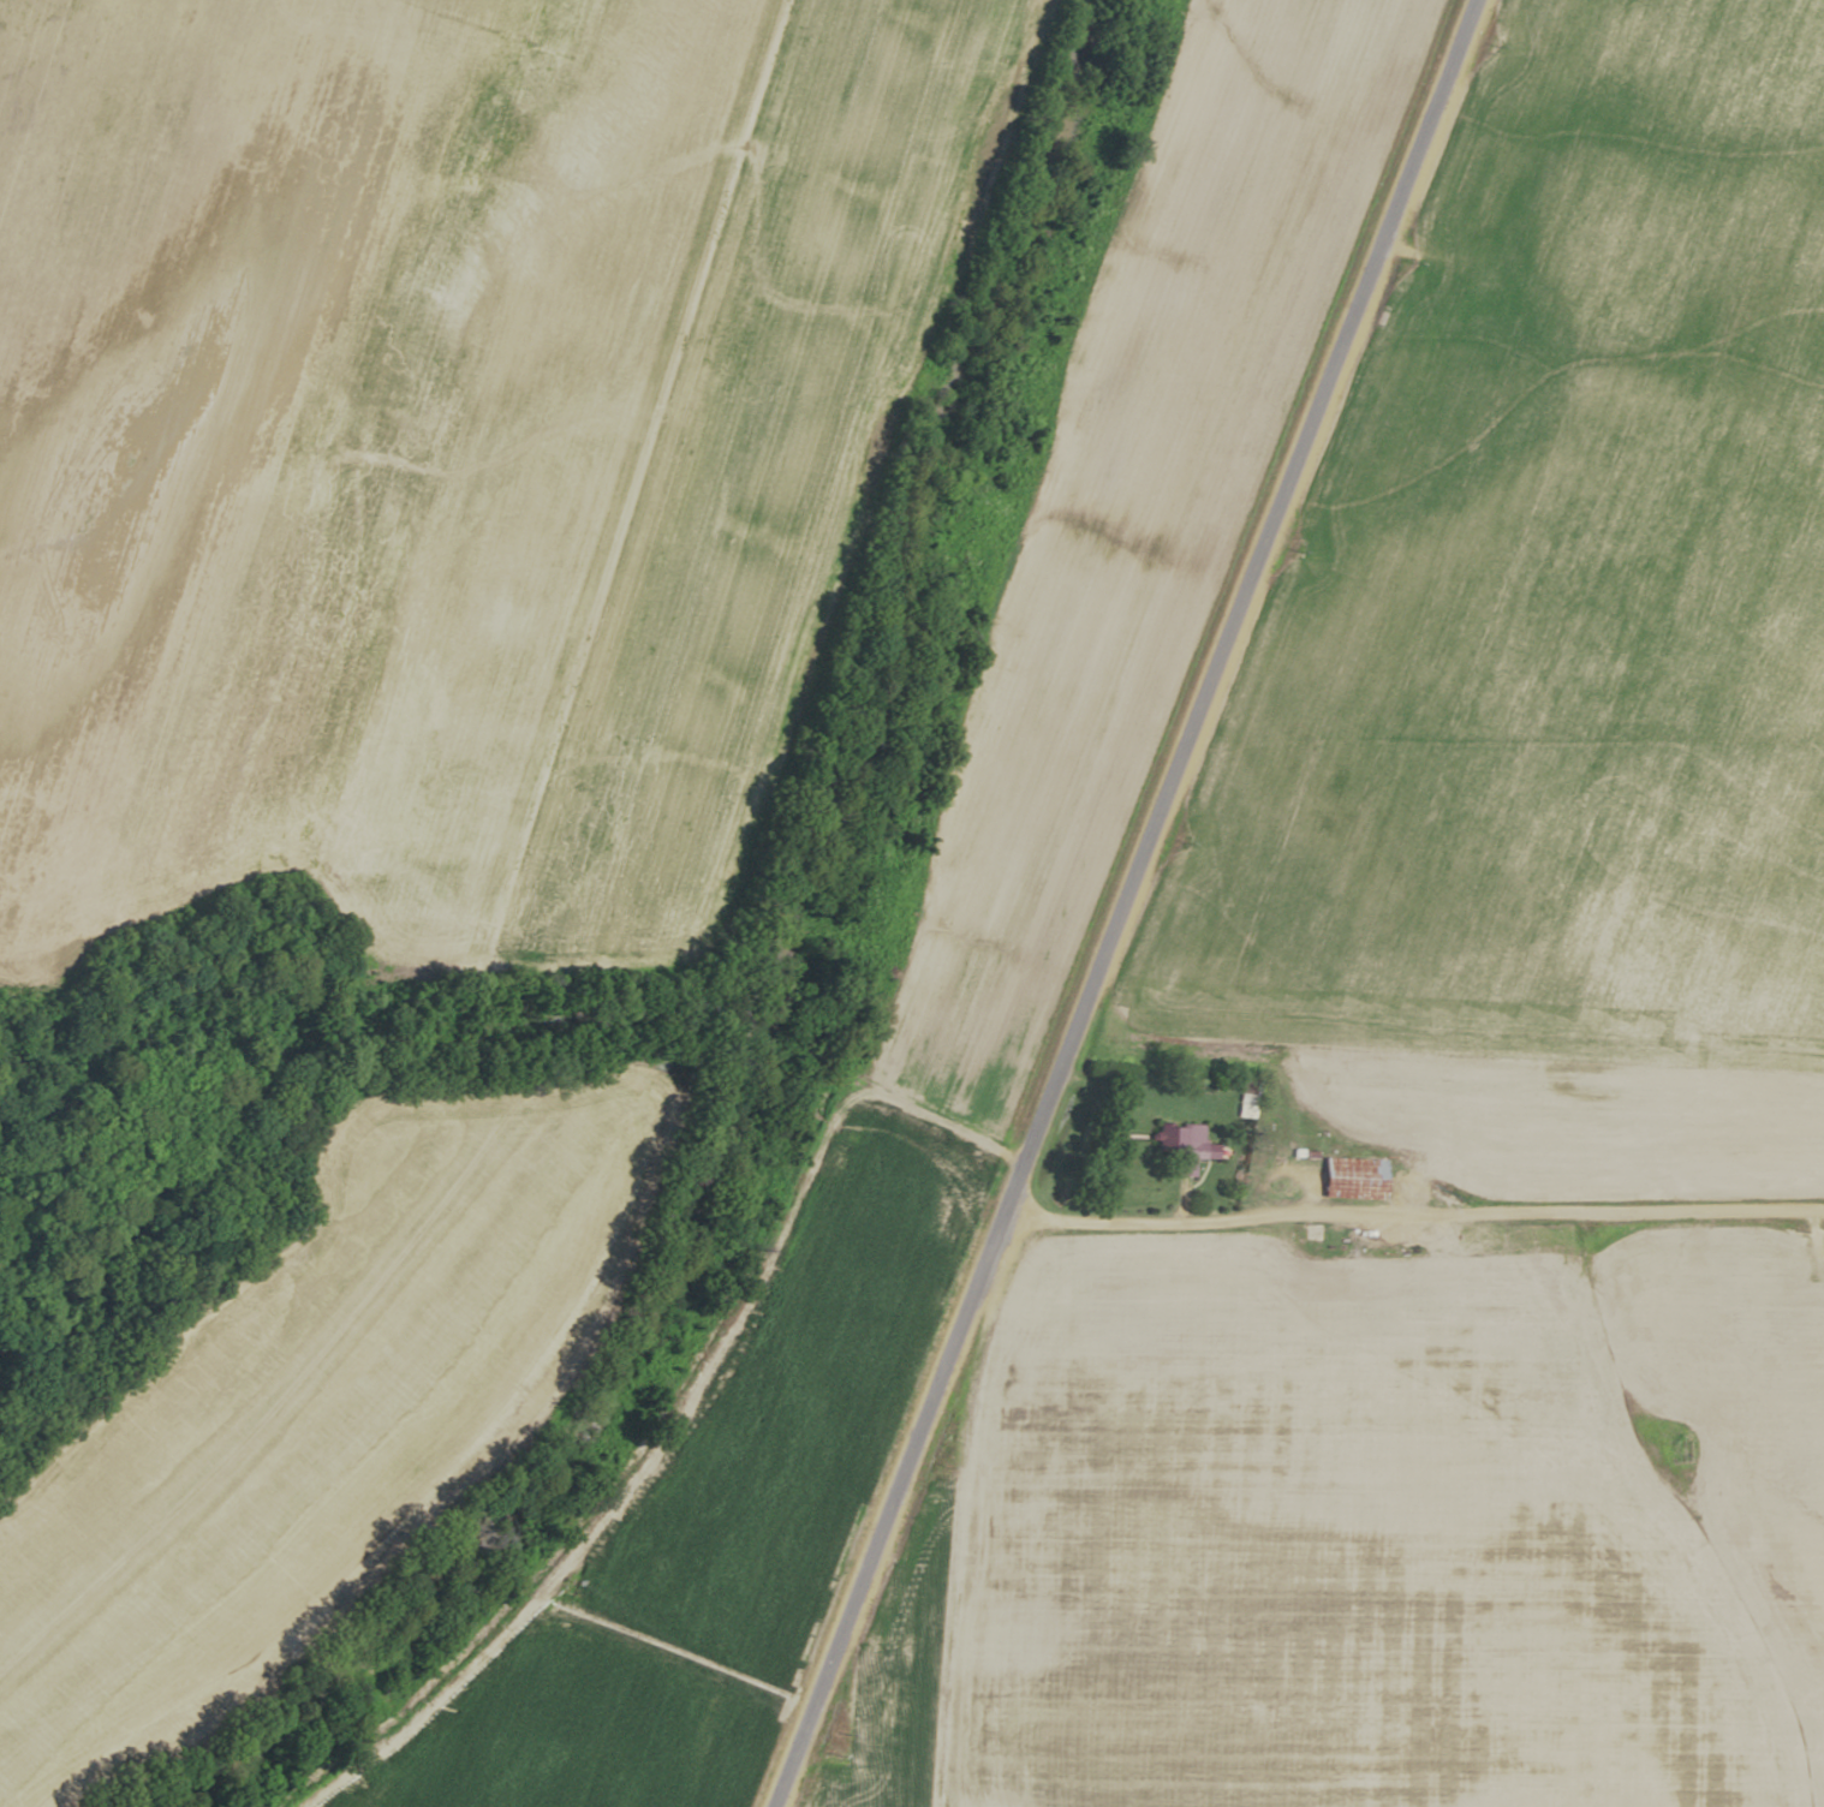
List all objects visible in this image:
road: (1142, 882)
building: (1184, 1145)
building: (1352, 1177)
road: (1431, 1197)
road: (1819, 1229)
road: (965, 1564)
road: (792, 1781)

